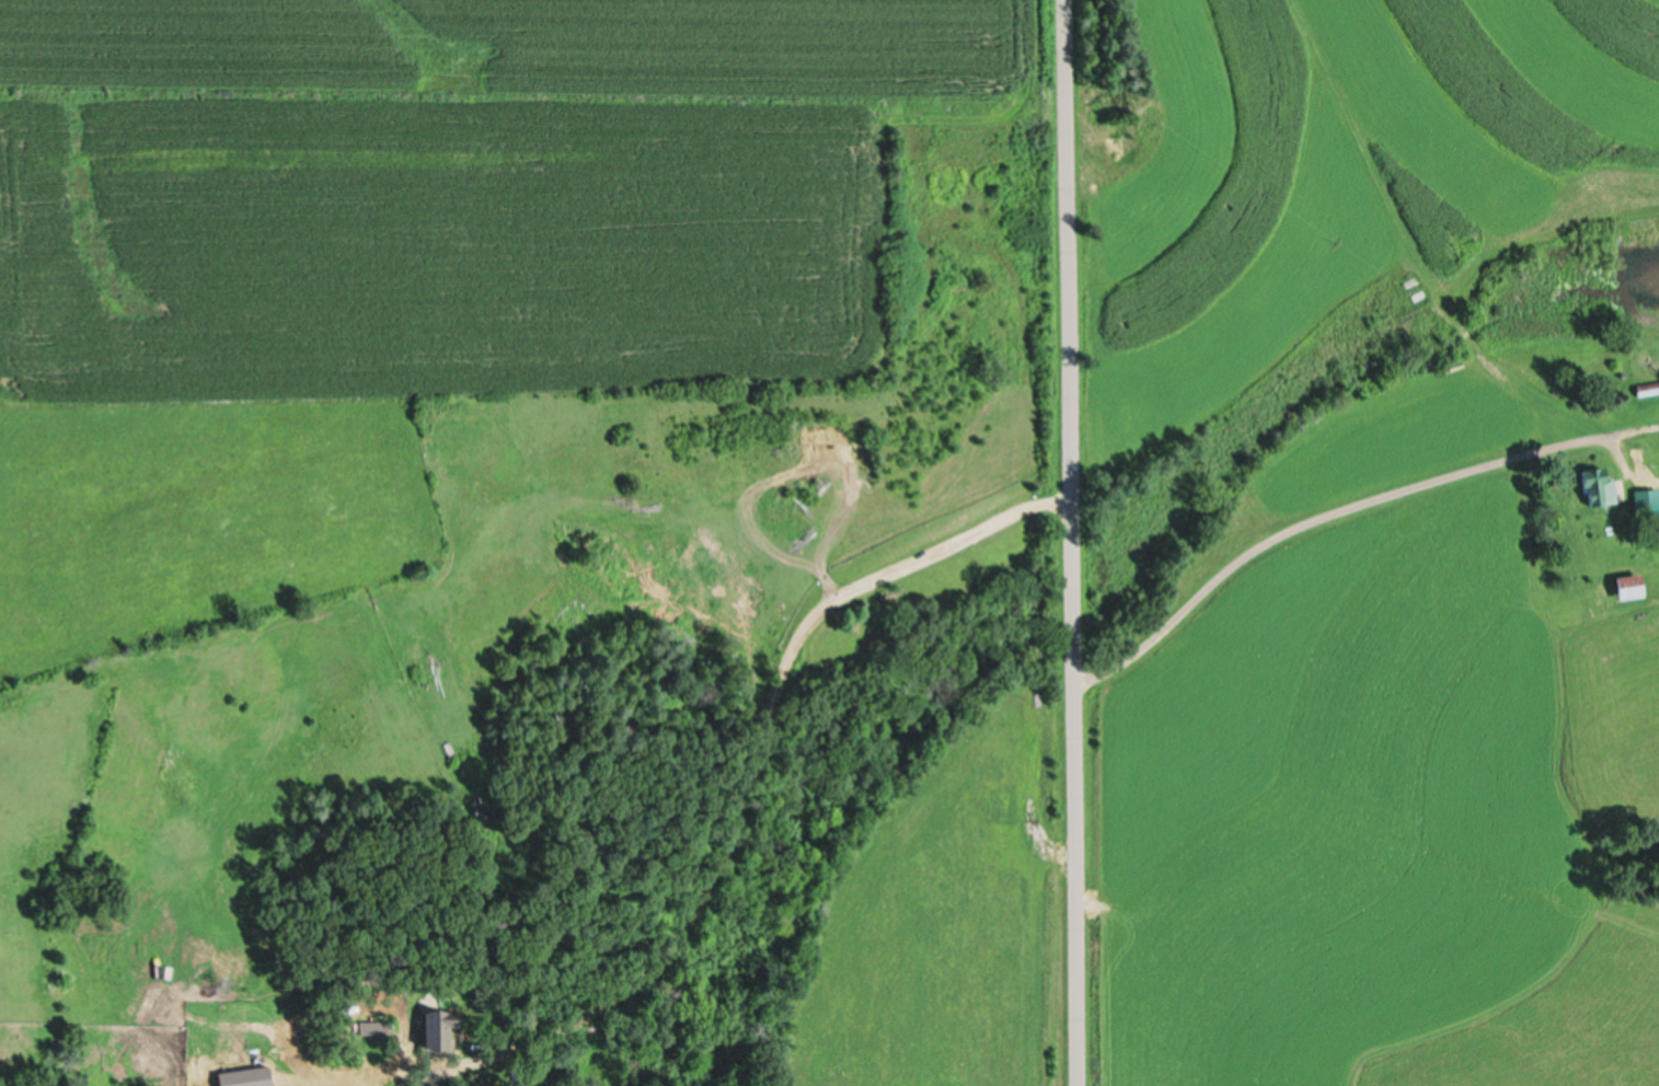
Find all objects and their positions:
building: (1646, 389)
building: (1600, 486)
building: (1645, 502)
road: (1345, 508)
road: (1072, 542)
building: (1627, 587)
road: (761, 765)
building: (436, 1032)

